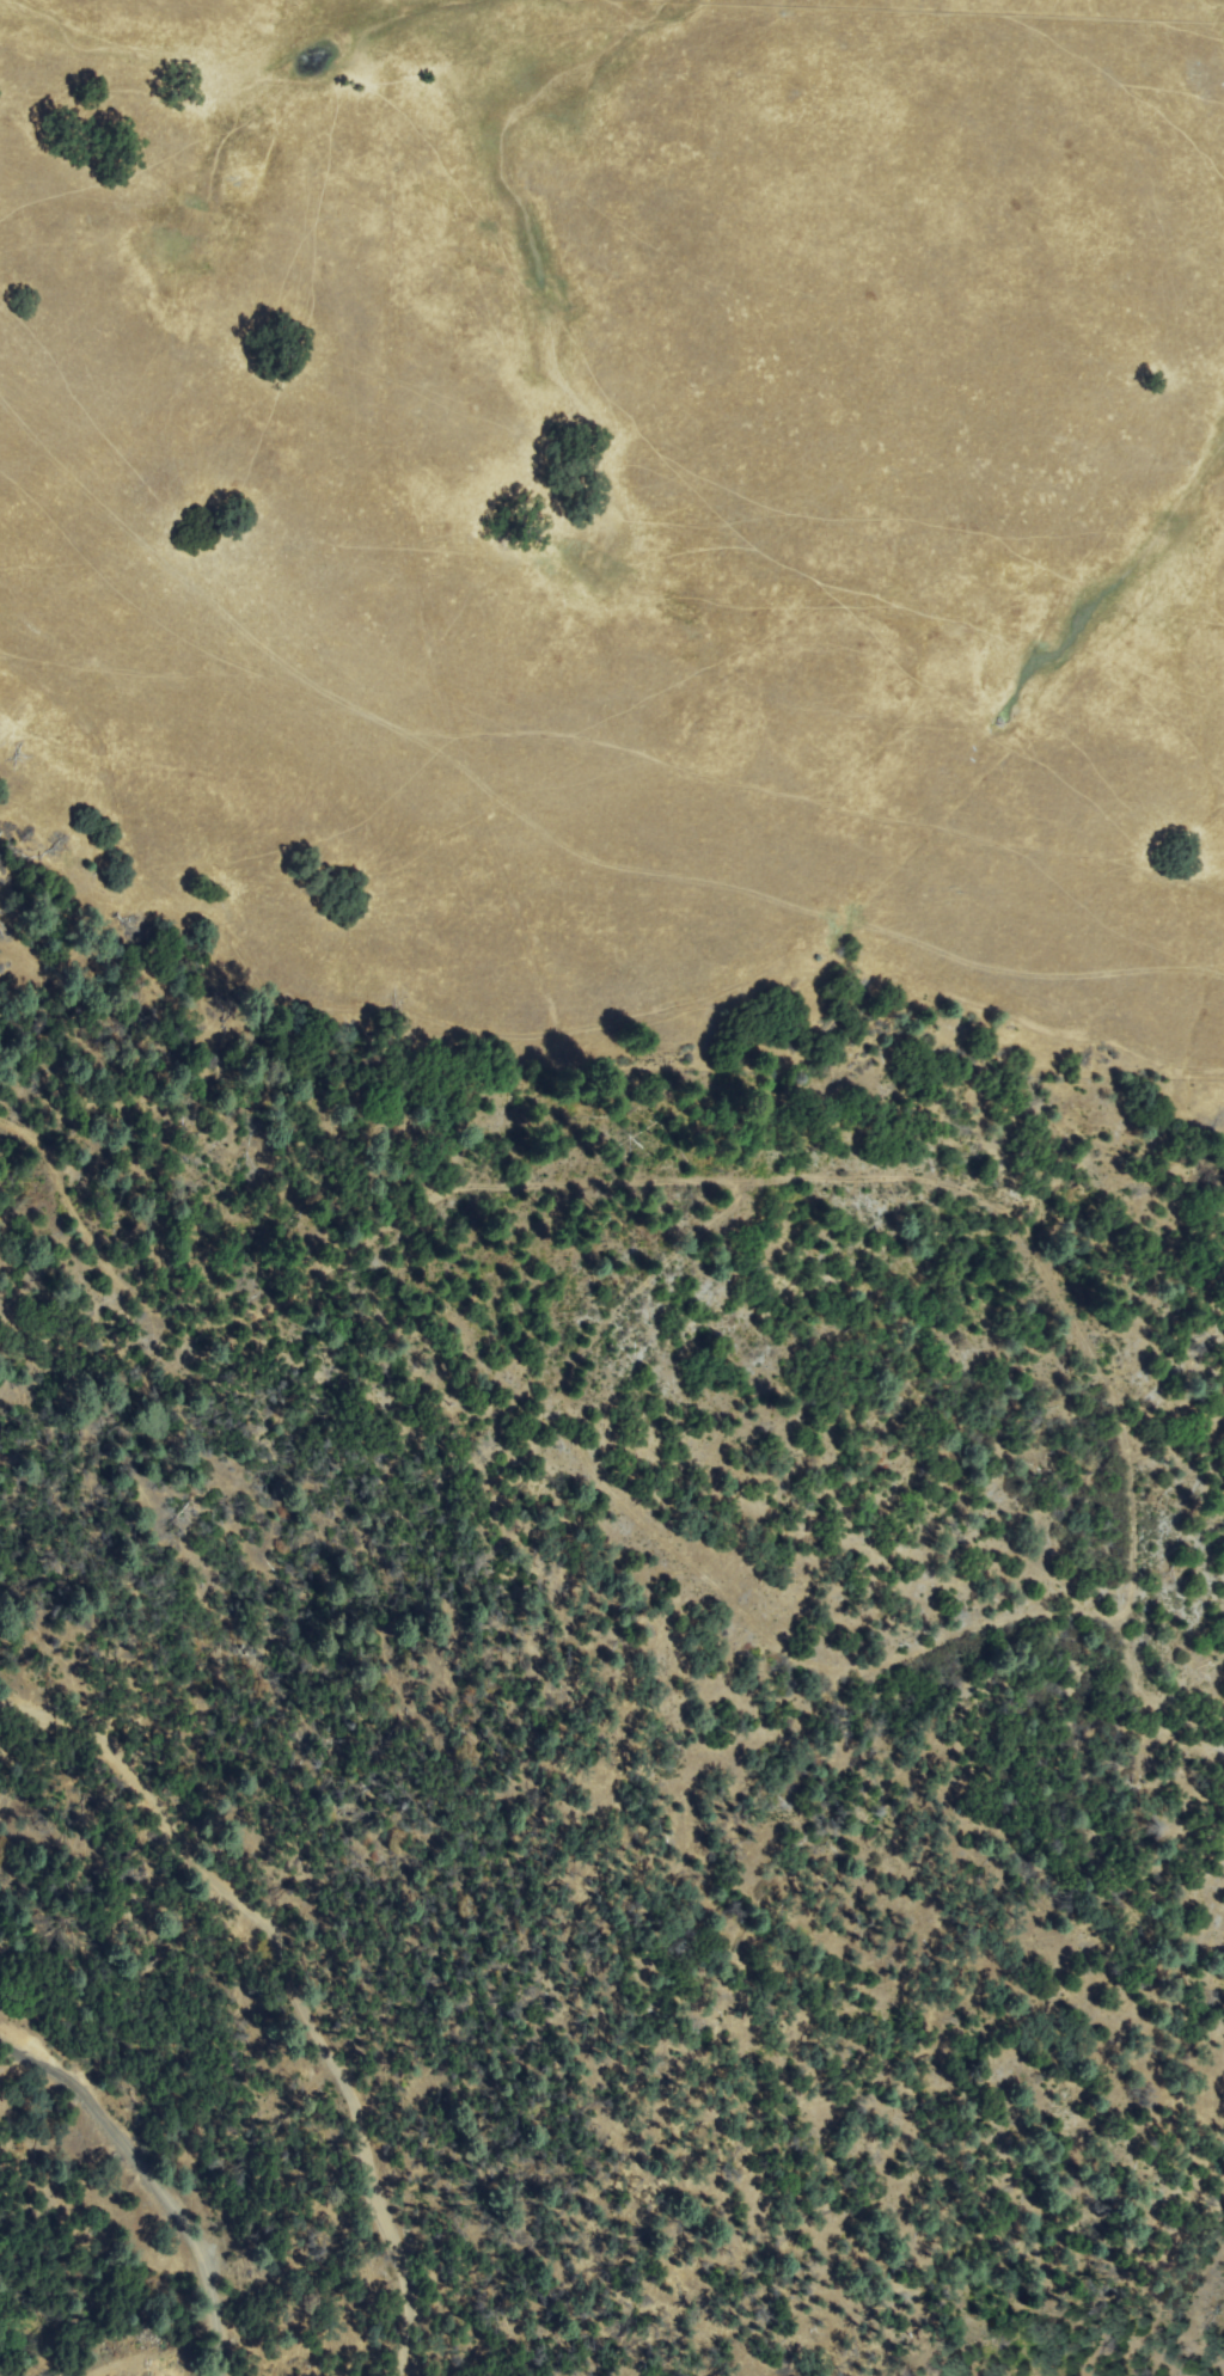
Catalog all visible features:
road: (559, 853)
road: (736, 1177)
road: (680, 1554)
road: (294, 1980)
road: (155, 2176)

